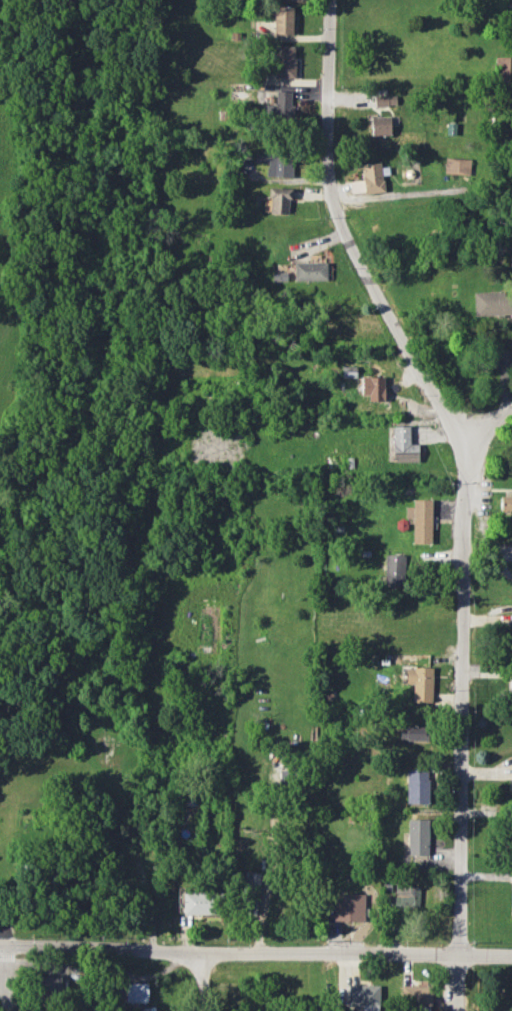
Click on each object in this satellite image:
building: (283, 20)
building: (284, 61)
building: (502, 69)
building: (384, 100)
building: (280, 106)
building: (380, 125)
building: (280, 165)
building: (457, 166)
building: (372, 177)
building: (278, 200)
building: (310, 271)
building: (492, 303)
park: (68, 316)
building: (343, 316)
building: (349, 371)
building: (373, 387)
road: (487, 426)
building: (403, 445)
road: (464, 488)
building: (505, 503)
building: (420, 520)
building: (394, 570)
building: (207, 629)
building: (511, 677)
building: (420, 683)
building: (413, 731)
building: (417, 786)
building: (510, 787)
building: (417, 836)
building: (253, 878)
building: (406, 895)
building: (198, 903)
building: (349, 908)
road: (256, 954)
road: (204, 982)
building: (49, 985)
building: (136, 992)
building: (416, 995)
building: (364, 996)

